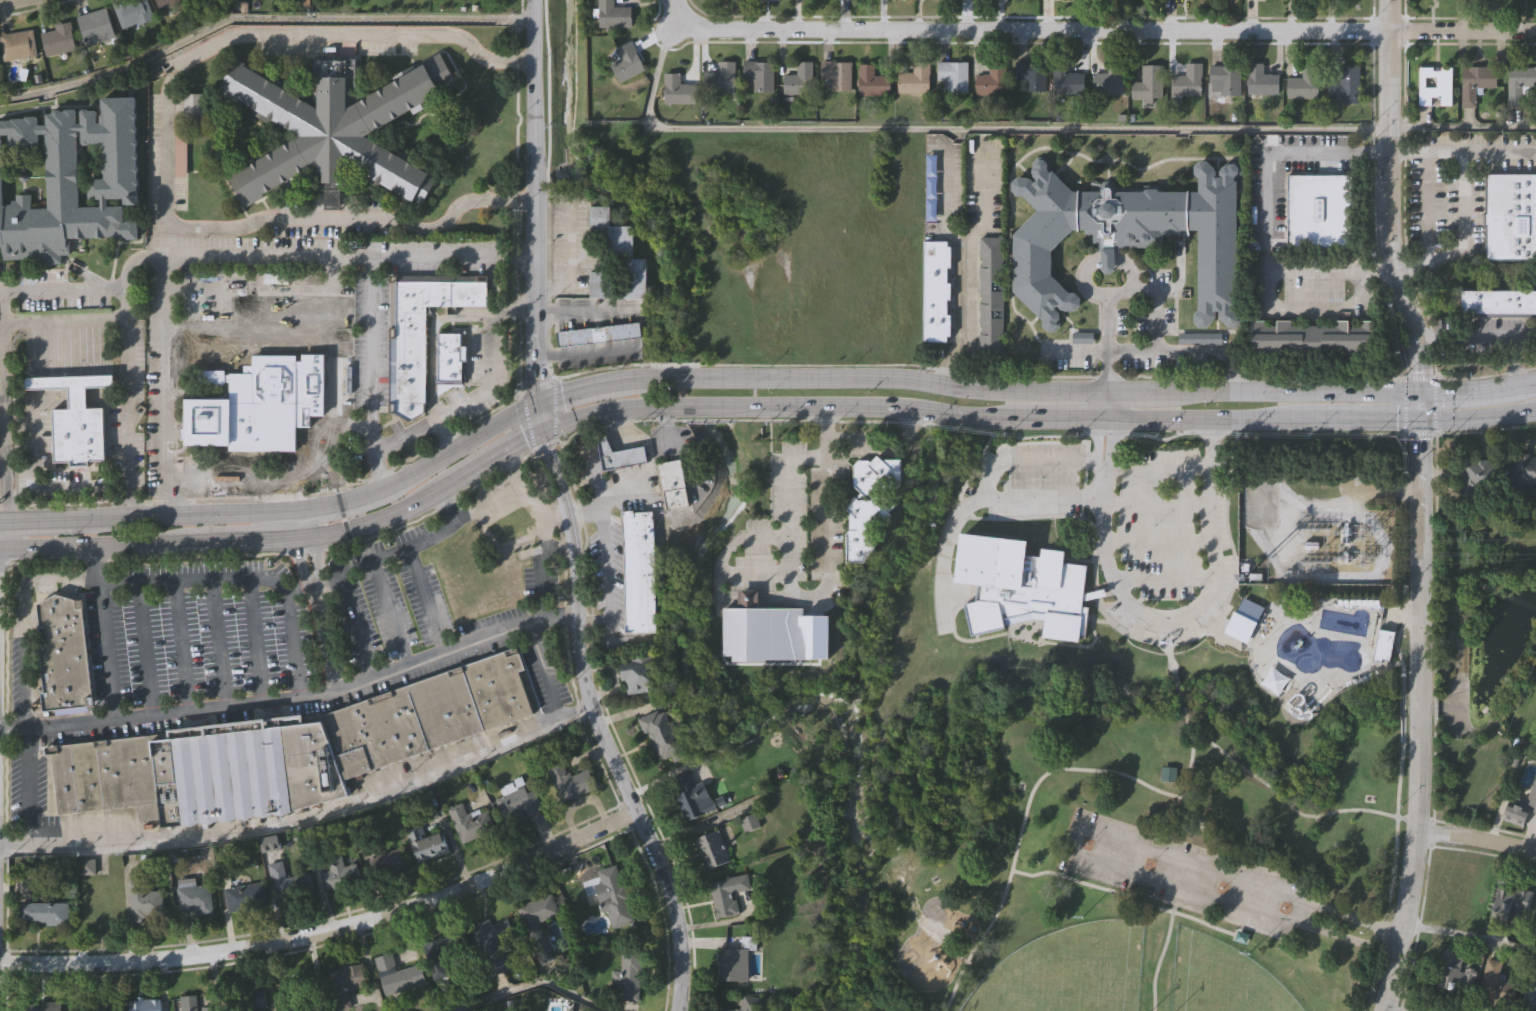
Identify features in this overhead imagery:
building: (1267, 0)
road: (7, 1)
building: (168, 3)
building: (132, 12)
building: (614, 15)
road: (258, 19)
building: (95, 26)
road: (1097, 27)
building: (58, 38)
building: (19, 44)
building: (627, 62)
building: (759, 75)
building: (837, 75)
building: (1031, 76)
building: (726, 77)
building: (953, 78)
building: (799, 80)
building: (915, 80)
building: (992, 81)
building: (1066, 81)
building: (1109, 81)
building: (1225, 81)
building: (1262, 81)
building: (873, 82)
building: (1188, 82)
building: (1476, 83)
building: (1147, 84)
building: (1519, 84)
building: (1304, 85)
building: (1346, 86)
building: (1435, 86)
building: (678, 94)
building: (194, 104)
building: (336, 127)
road: (1034, 128)
road: (166, 147)
building: (182, 147)
road: (1407, 153)
road: (1329, 154)
building: (92, 168)
road: (1426, 168)
building: (27, 171)
building: (73, 181)
road: (1265, 200)
building: (1319, 209)
building: (1510, 215)
road: (533, 218)
road: (1461, 219)
building: (1128, 237)
road: (569, 242)
building: (619, 250)
road: (301, 255)
road: (972, 262)
road: (956, 265)
road: (1377, 271)
building: (601, 285)
road: (62, 287)
road: (250, 287)
building: (937, 291)
building: (991, 295)
road: (1154, 302)
building: (1498, 303)
road: (1271, 309)
road: (584, 310)
building: (418, 326)
road: (250, 329)
building: (598, 334)
road: (1466, 337)
building: (1198, 338)
road: (334, 340)
building: (1310, 340)
road: (584, 348)
road: (1131, 352)
road: (373, 354)
road: (125, 355)
building: (449, 358)
road: (754, 371)
building: (72, 386)
road: (150, 387)
traffic signals: (1417, 388)
road: (1107, 389)
road: (1, 397)
road: (468, 399)
building: (260, 404)
traffic signals: (535, 404)
road: (907, 404)
road: (2, 416)
traffic signals: (1418, 423)
road: (354, 425)
road: (444, 434)
building: (79, 435)
traffic signals: (540, 436)
road: (882, 436)
road: (1, 454)
building: (619, 454)
road: (1048, 458)
building: (1523, 471)
building: (1477, 476)
road: (42, 485)
building: (673, 485)
road: (1040, 498)
building: (870, 505)
road: (1153, 505)
road: (1417, 505)
building: (509, 518)
road: (301, 521)
power substation: (1318, 524)
road: (948, 534)
road: (152, 543)
road: (1157, 543)
road: (727, 552)
building: (1183, 553)
road: (316, 561)
road: (357, 563)
road: (300, 564)
road: (606, 566)
road: (787, 568)
building: (639, 572)
road: (752, 573)
road: (61, 578)
road: (1163, 580)
building: (1020, 585)
building: (747, 597)
road: (426, 601)
road: (775, 601)
road: (747, 602)
road: (1199, 604)
road: (23, 612)
road: (391, 613)
building: (1243, 619)
building: (764, 632)
road: (107, 634)
road: (327, 643)
building: (1383, 644)
water park: (1303, 646)
building: (64, 654)
road: (1168, 657)
road: (543, 671)
building: (637, 674)
road: (21, 686)
road: (1178, 691)
road: (293, 702)
building: (427, 712)
road: (1187, 725)
road: (597, 727)
building: (662, 734)
building: (244, 768)
building: (106, 774)
building: (1167, 774)
road: (1133, 780)
building: (569, 781)
road: (28, 788)
building: (689, 796)
building: (518, 804)
building: (1521, 809)
road: (317, 810)
building: (470, 822)
road: (1199, 827)
road: (1475, 836)
road: (1074, 839)
building: (426, 842)
road: (13, 844)
building: (712, 850)
park: (1140, 859)
building: (388, 863)
building: (87, 866)
building: (337, 870)
parking lot: (1178, 874)
building: (284, 879)
building: (729, 893)
building: (246, 895)
road: (1121, 895)
building: (194, 896)
building: (614, 896)
building: (146, 902)
building: (1512, 904)
building: (539, 909)
building: (44, 912)
road: (1384, 914)
road: (327, 928)
building: (1535, 930)
building: (1240, 936)
road: (1470, 936)
building: (468, 951)
road: (1158, 961)
building: (734, 963)
park: (1067, 971)
building: (1455, 972)
building: (398, 974)
building: (632, 974)
park: (1221, 978)
building: (1493, 981)
building: (345, 982)
road: (527, 984)
building: (304, 990)
building: (1529, 994)
building: (247, 999)
building: (752, 1003)
building: (145, 1004)
building: (193, 1004)
building: (48, 1006)
building: (98, 1006)
building: (724, 1009)

